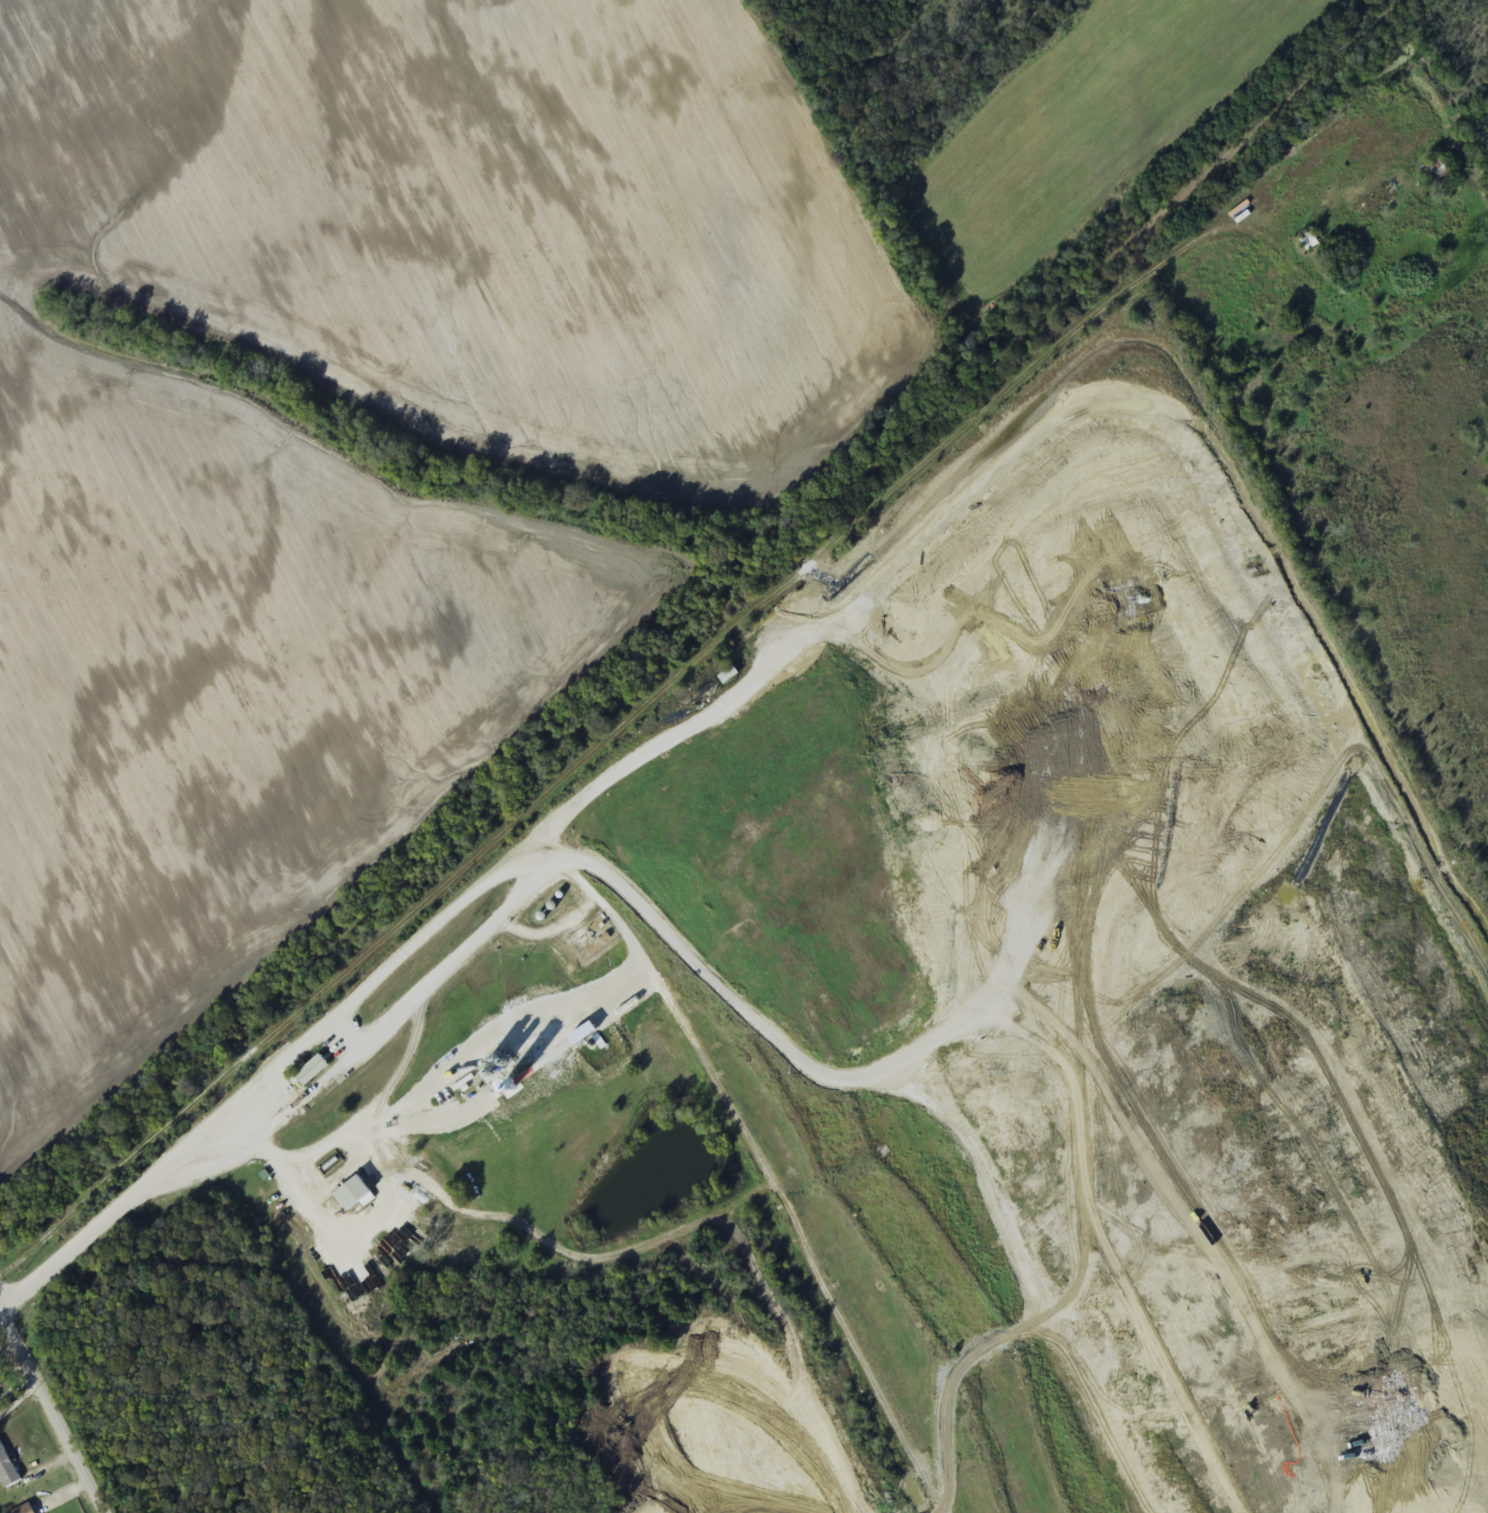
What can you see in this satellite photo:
building: (1442, 170)
building: (1309, 239)
railway: (696, 616)
building: (729, 675)
building: (587, 941)
building: (311, 1071)
building: (354, 1194)
road: (52, 1415)
road: (27, 1437)
building: (26, 1509)

